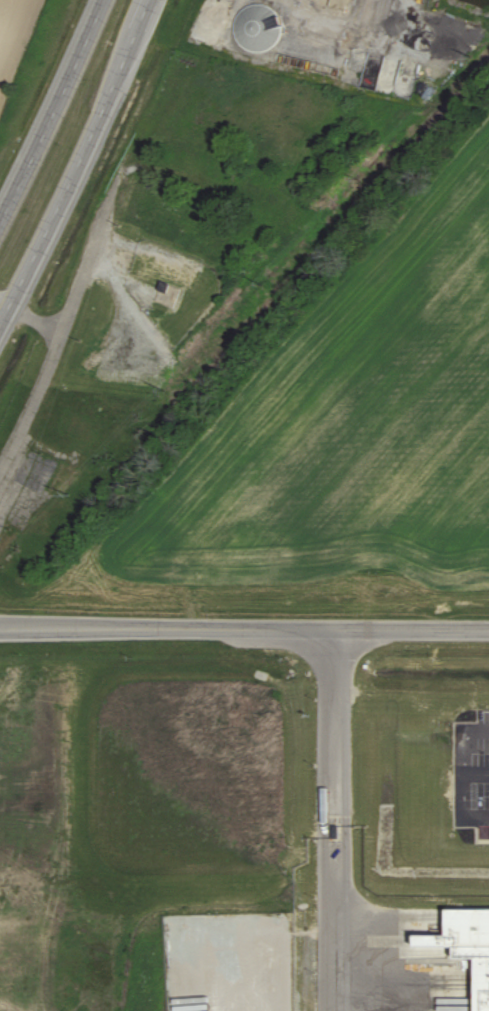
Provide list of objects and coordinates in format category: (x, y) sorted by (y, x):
building: (257, 32)
storage tank: (257, 32)
road: (53, 112)
road: (78, 163)
road: (130, 314)
road: (30, 317)
road: (62, 331)
road: (244, 628)
road: (466, 740)
parking lot: (475, 773)
road: (466, 793)
road: (334, 820)
building: (463, 946)
road: (239, 996)

